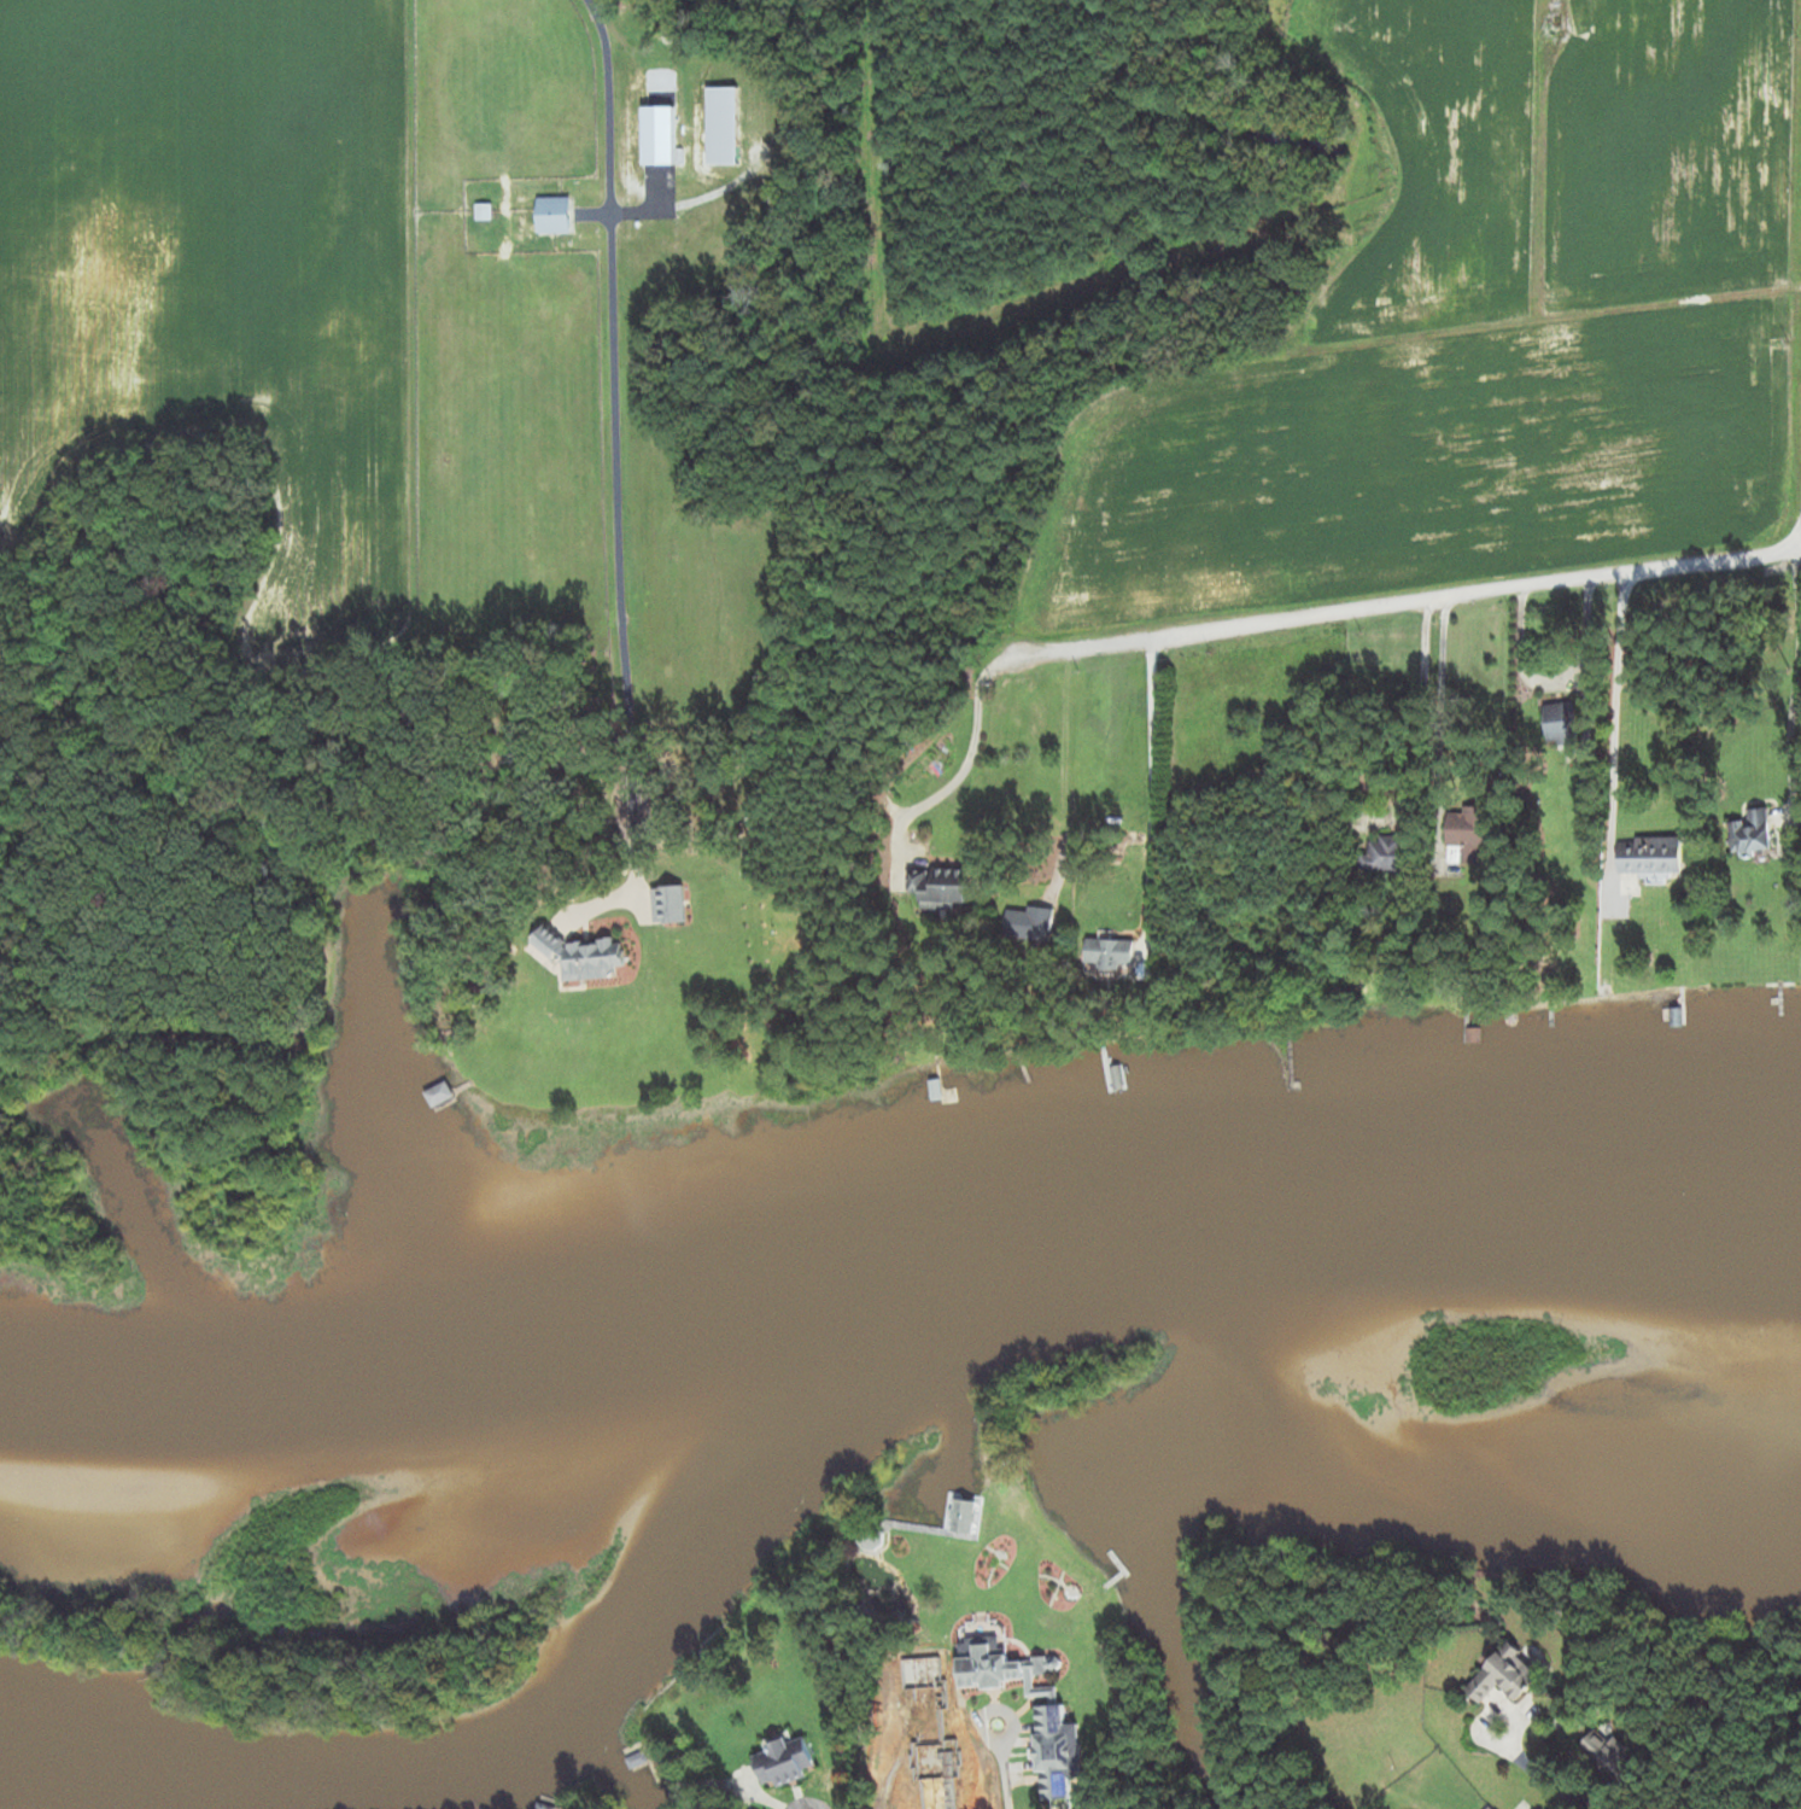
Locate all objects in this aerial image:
building: (1555, 21)
building: (723, 126)
building: (484, 199)
building: (554, 215)
road: (1405, 600)
road: (1419, 708)
building: (1562, 724)
road: (1770, 724)
building: (1469, 834)
building: (1753, 834)
building: (1391, 856)
building: (1651, 856)
building: (941, 888)
building: (669, 905)
building: (1030, 924)
building: (1111, 956)
building: (585, 957)
building: (1678, 1019)
building: (1475, 1037)
building: (1115, 1080)
building: (936, 1091)
building: (440, 1096)
river: (1208, 1194)
building: (964, 1515)
building: (871, 1539)
building: (1505, 1675)
building: (923, 1686)
building: (1051, 1712)
road: (1045, 1722)
building: (637, 1756)
building: (1609, 1757)
building: (787, 1761)
building: (934, 1773)
river: (416, 1788)
building: (545, 1805)
building: (1491, 1807)

